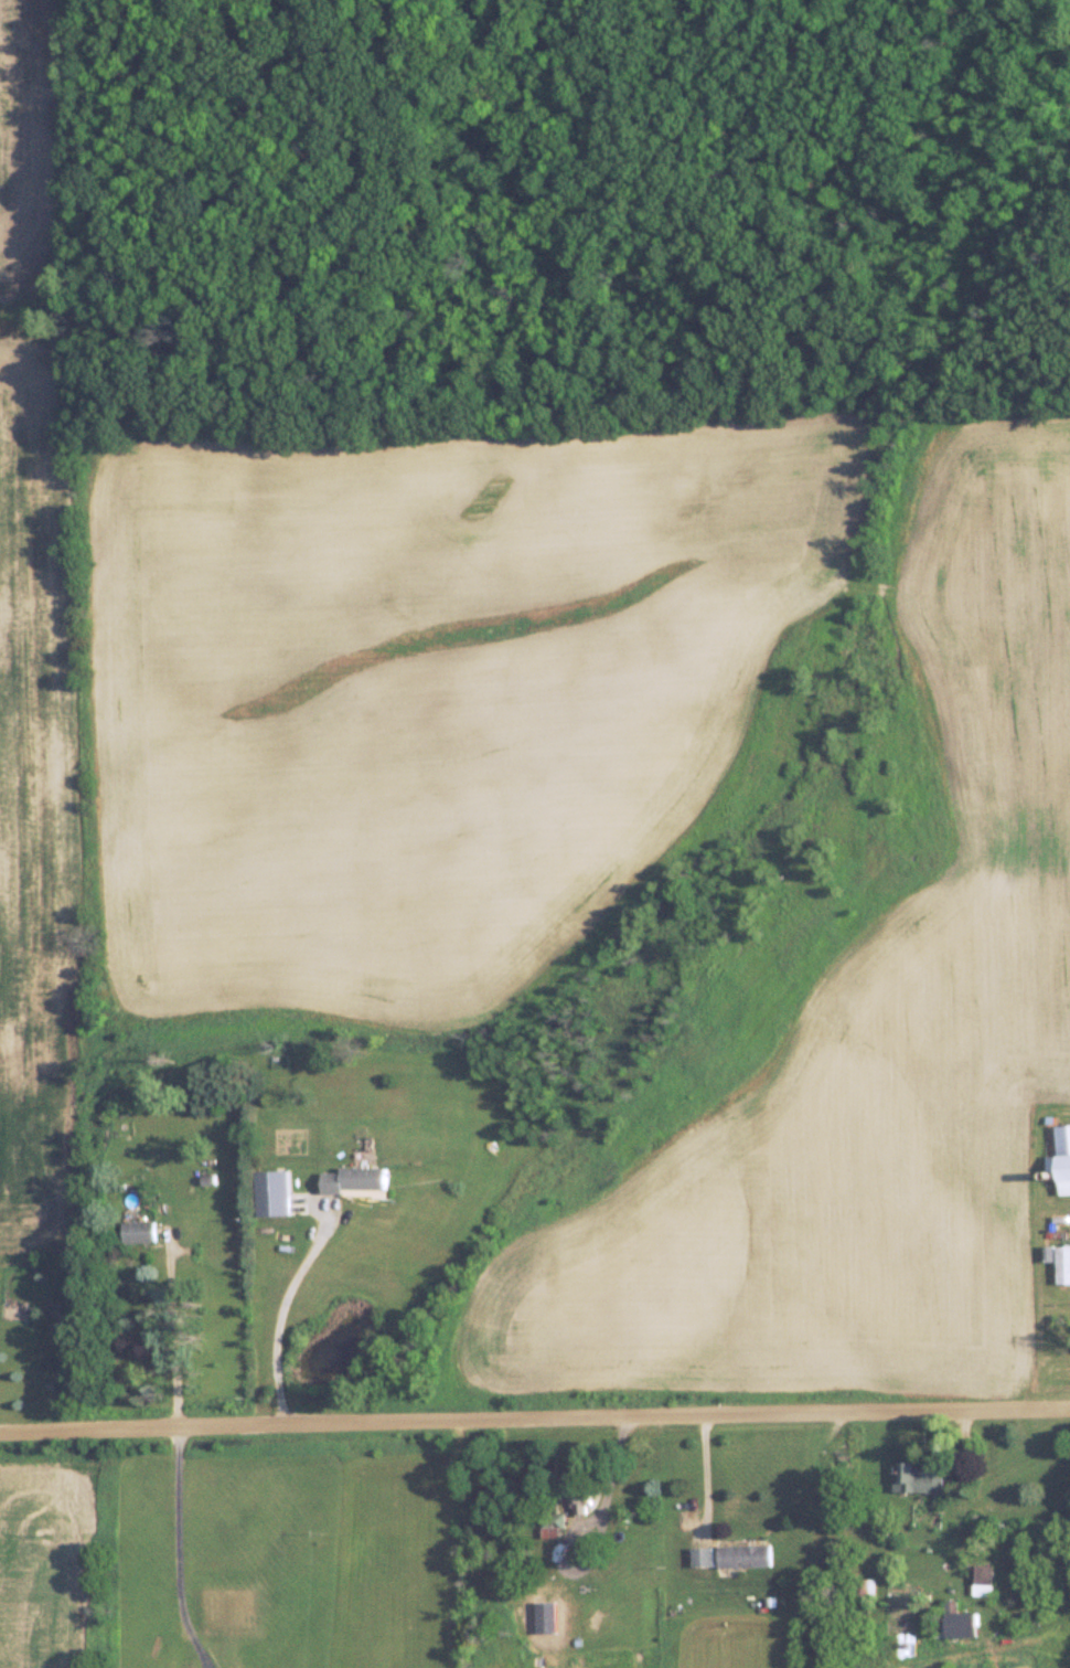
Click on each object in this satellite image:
building: (1060, 1159)
building: (354, 1180)
building: (138, 1232)
building: (1061, 1265)
road: (281, 1320)
road: (172, 1339)
road: (535, 1431)
building: (918, 1477)
road: (719, 1487)
building: (578, 1492)
building: (552, 1526)
building: (743, 1554)
building: (700, 1555)
road: (179, 1557)
building: (858, 1587)
building: (545, 1617)
building: (952, 1622)

